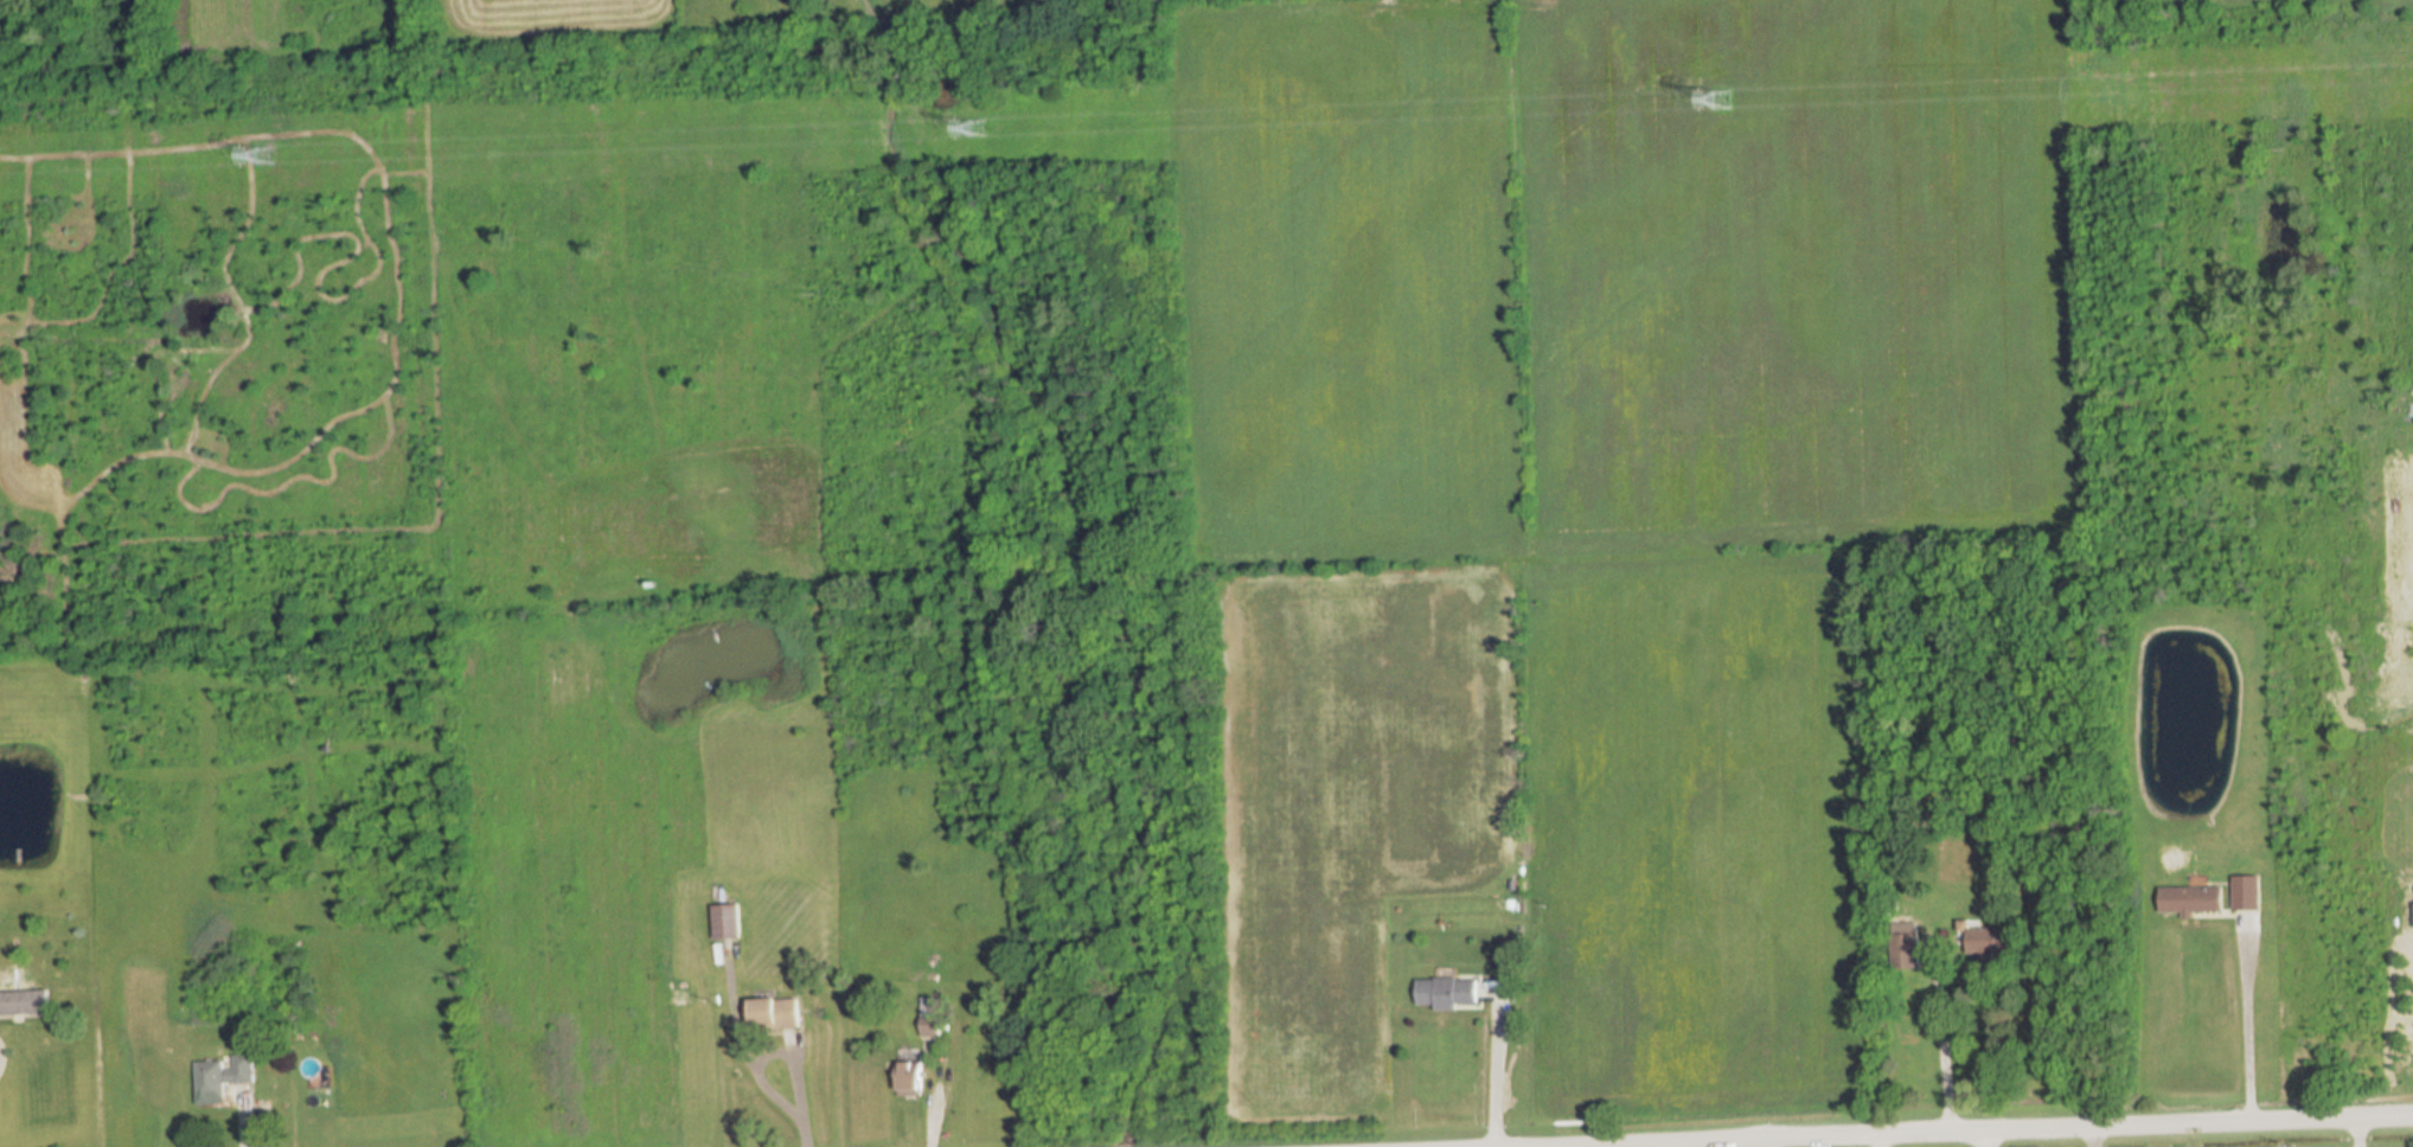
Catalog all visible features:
power tower: (1722, 97)
power tower: (974, 133)
power tower: (265, 156)
building: (2246, 893)
building: (2191, 901)
building: (725, 922)
building: (1989, 944)
building: (1905, 950)
building: (1447, 993)
building: (24, 1002)
building: (775, 1014)
building: (930, 1017)
road: (2248, 1020)
road: (1942, 1044)
road: (1489, 1066)
building: (225, 1074)
road: (801, 1087)
road: (2010, 1133)
road: (2354, 1134)
road: (2091, 1139)
road: (1979, 1140)
road: (1760, 1143)

